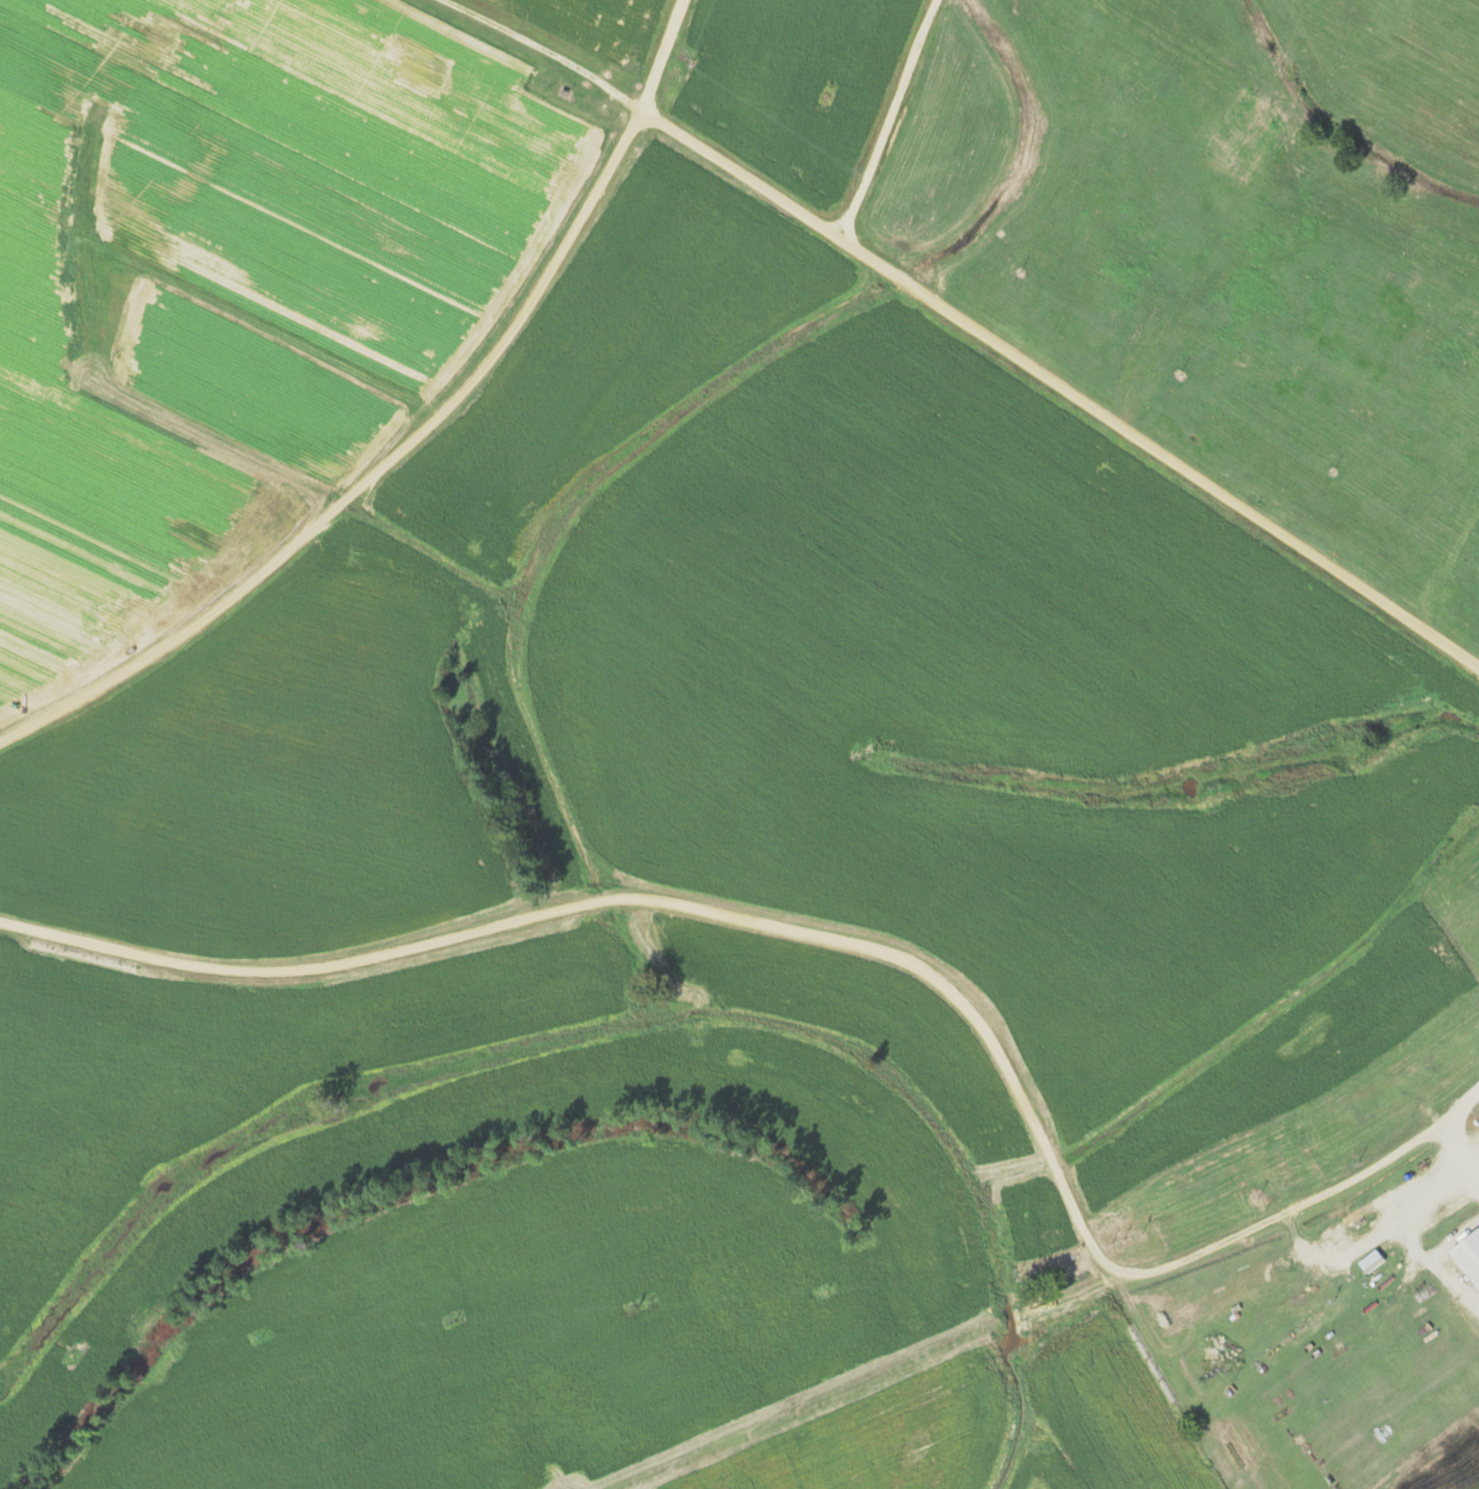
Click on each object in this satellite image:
building: (1256, 112)
road: (896, 119)
road: (984, 332)
road: (839, 937)
building: (1468, 1257)
building: (1370, 1262)

